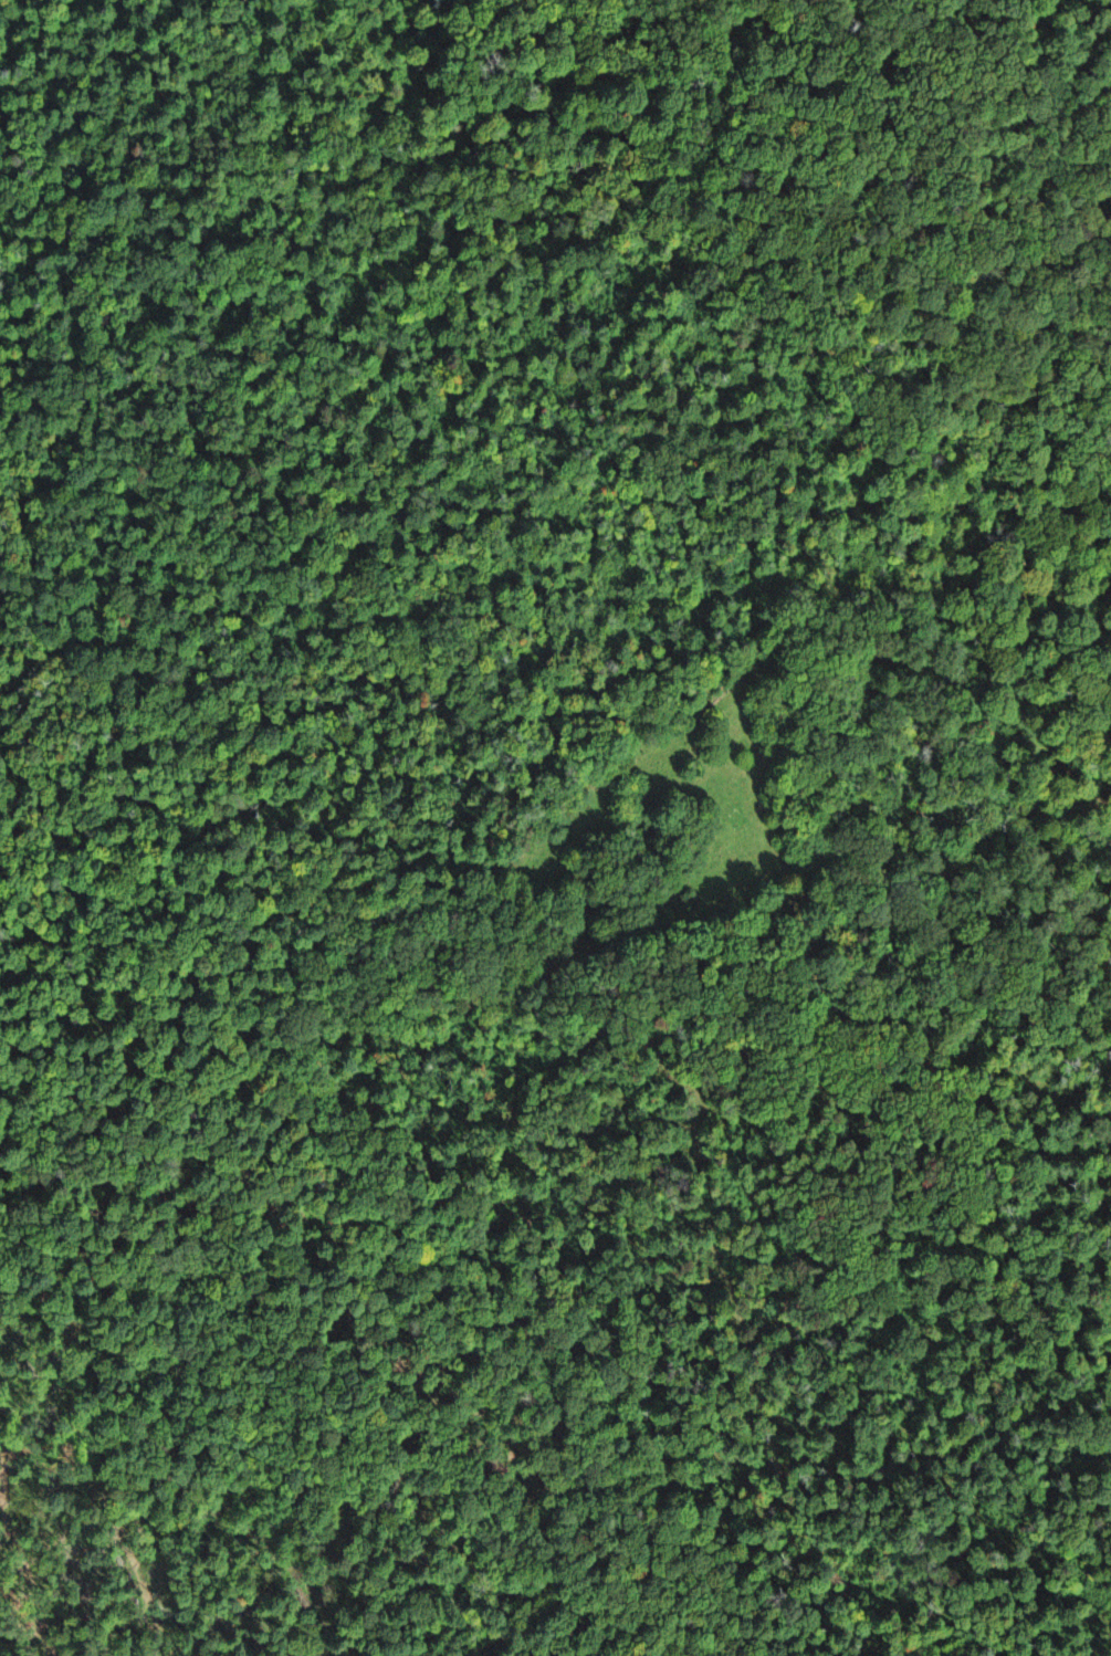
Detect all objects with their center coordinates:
road: (717, 1270)

